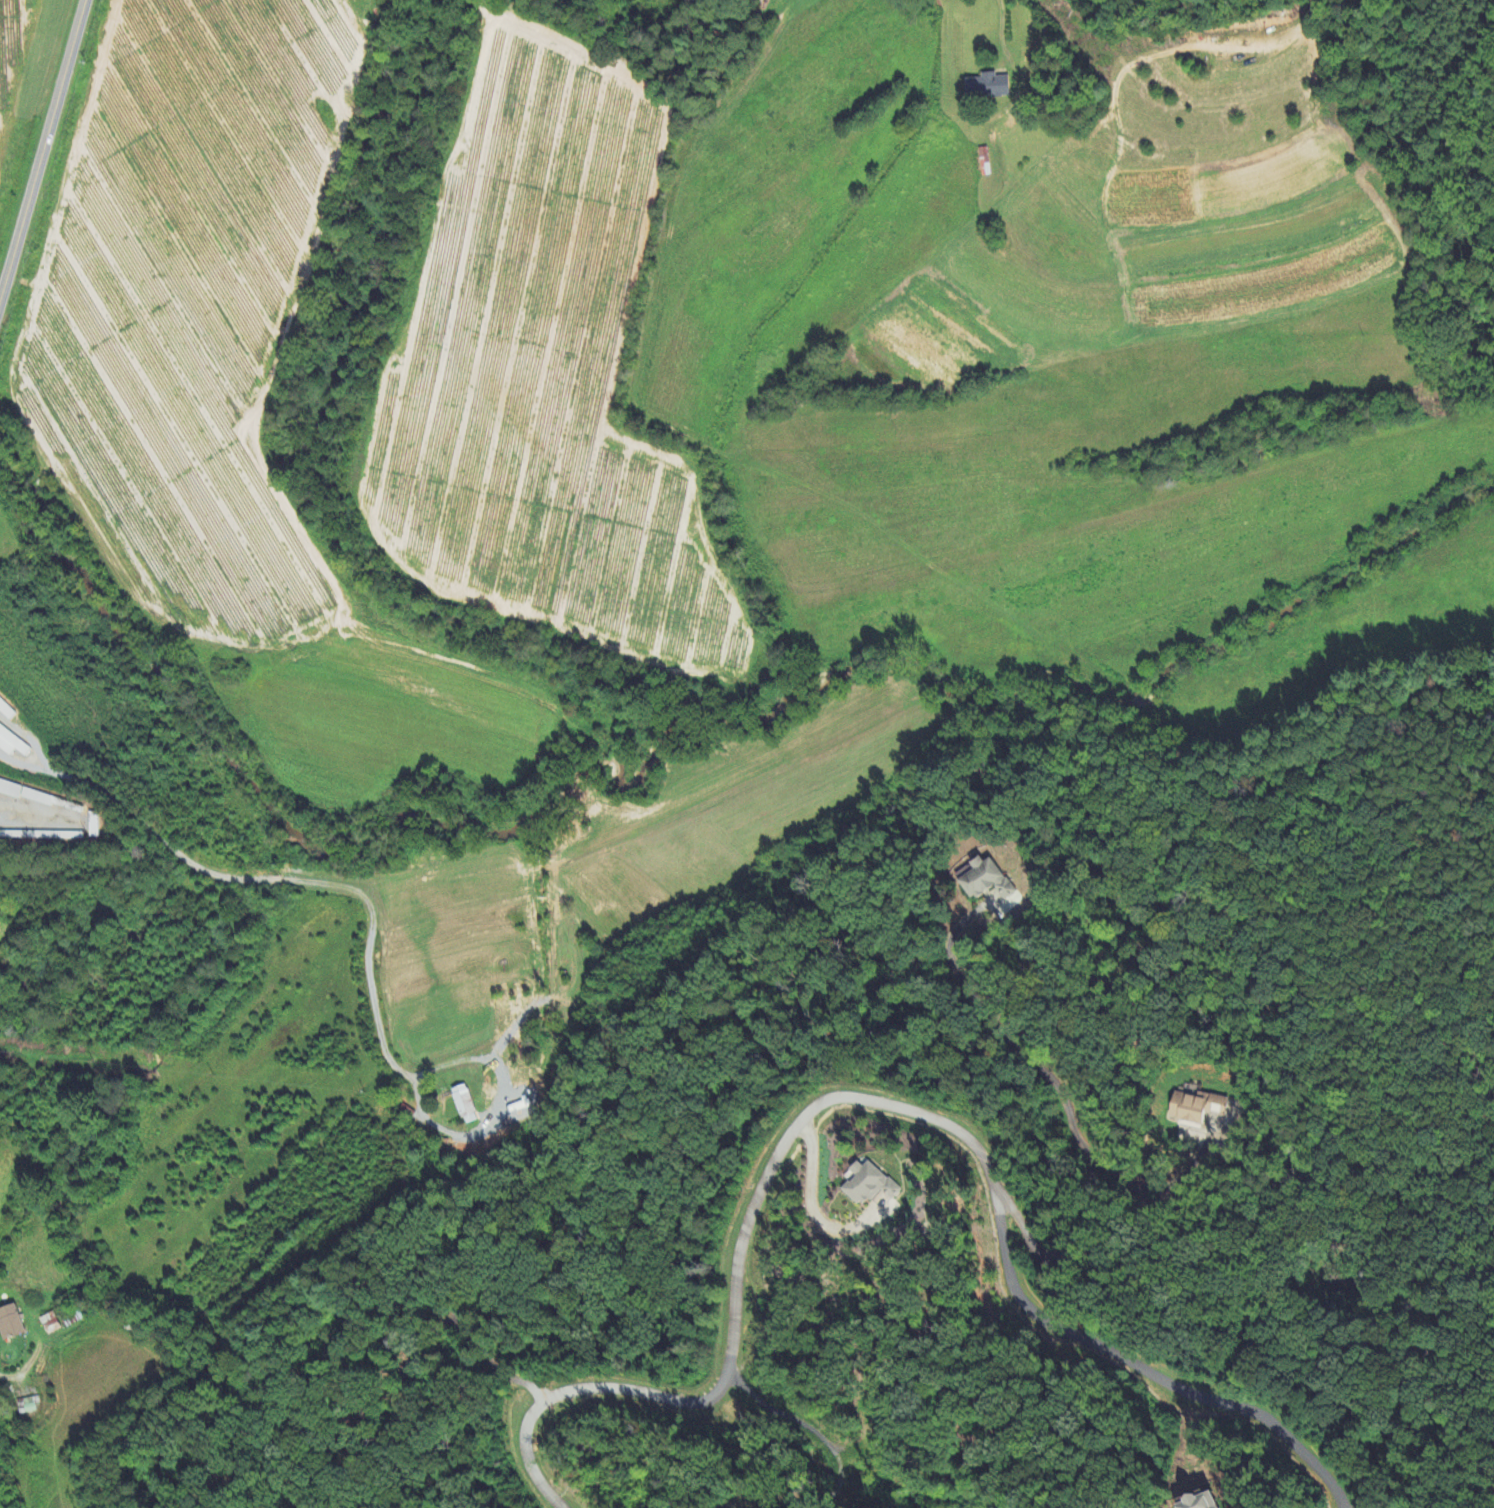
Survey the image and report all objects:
road: (1440, 22)
road: (999, 29)
building: (984, 88)
road: (43, 148)
building: (5, 712)
building: (11, 744)
building: (8, 791)
building: (33, 799)
building: (983, 880)
road: (253, 882)
road: (872, 1101)
building: (462, 1105)
building: (1198, 1108)
road: (1087, 1142)
building: (866, 1185)
road: (810, 1205)
building: (10, 1321)
building: (52, 1324)
road: (25, 1373)
building: (27, 1406)
building: (1196, 1502)

